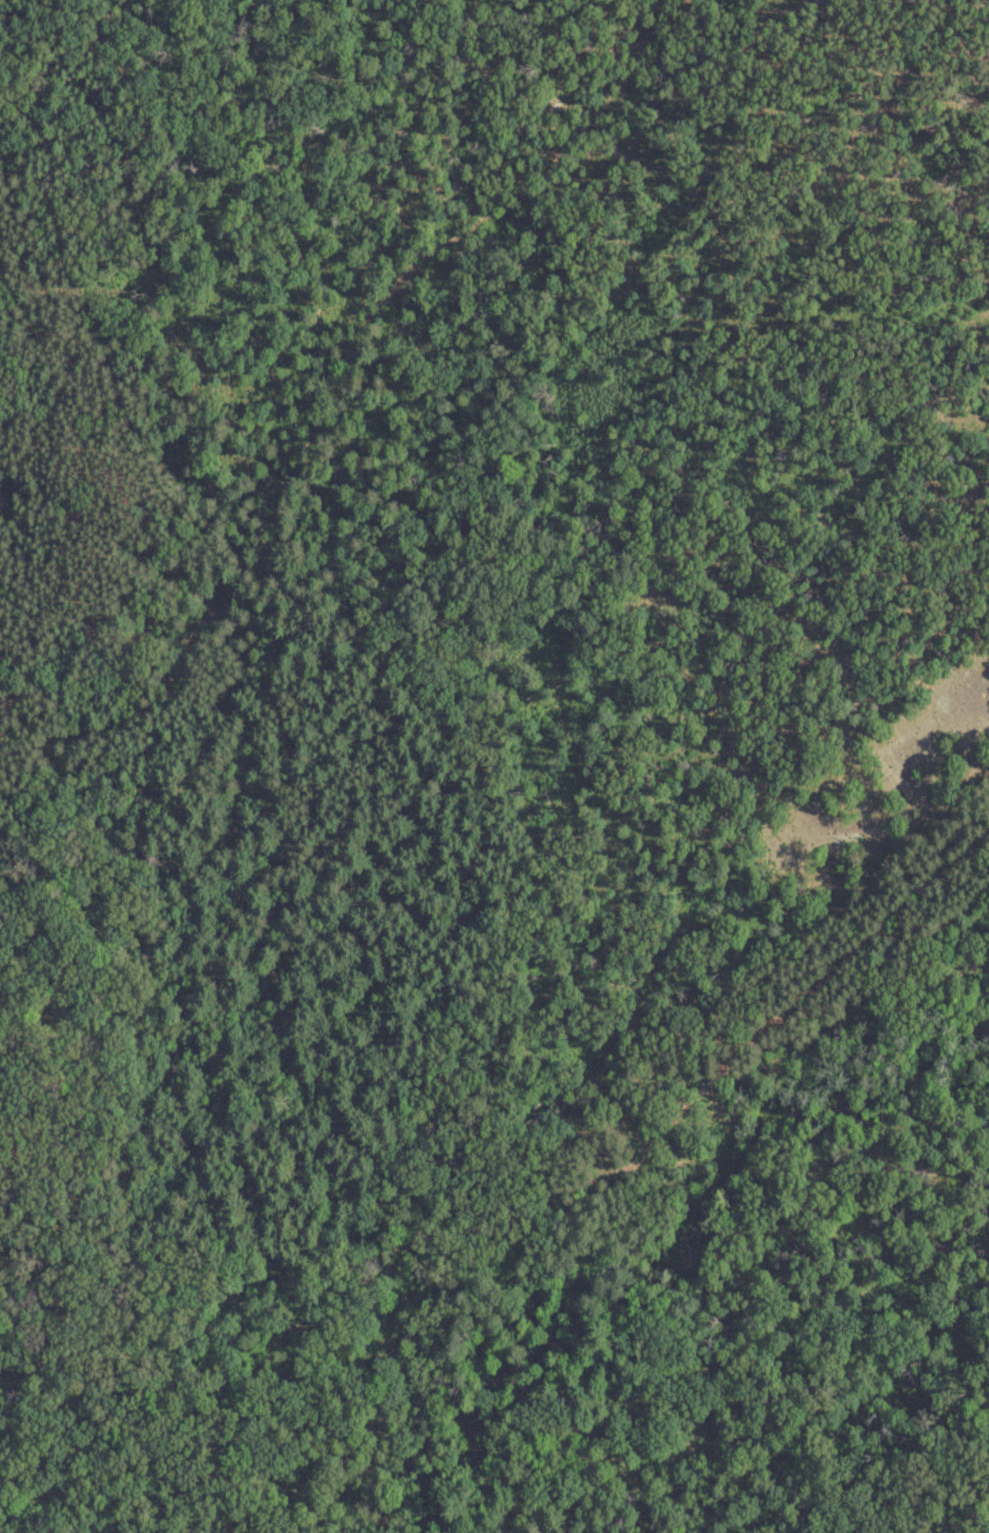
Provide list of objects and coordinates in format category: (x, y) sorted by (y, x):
road: (767, 1030)
road: (300, 1313)
road: (249, 1315)
road: (498, 1532)

